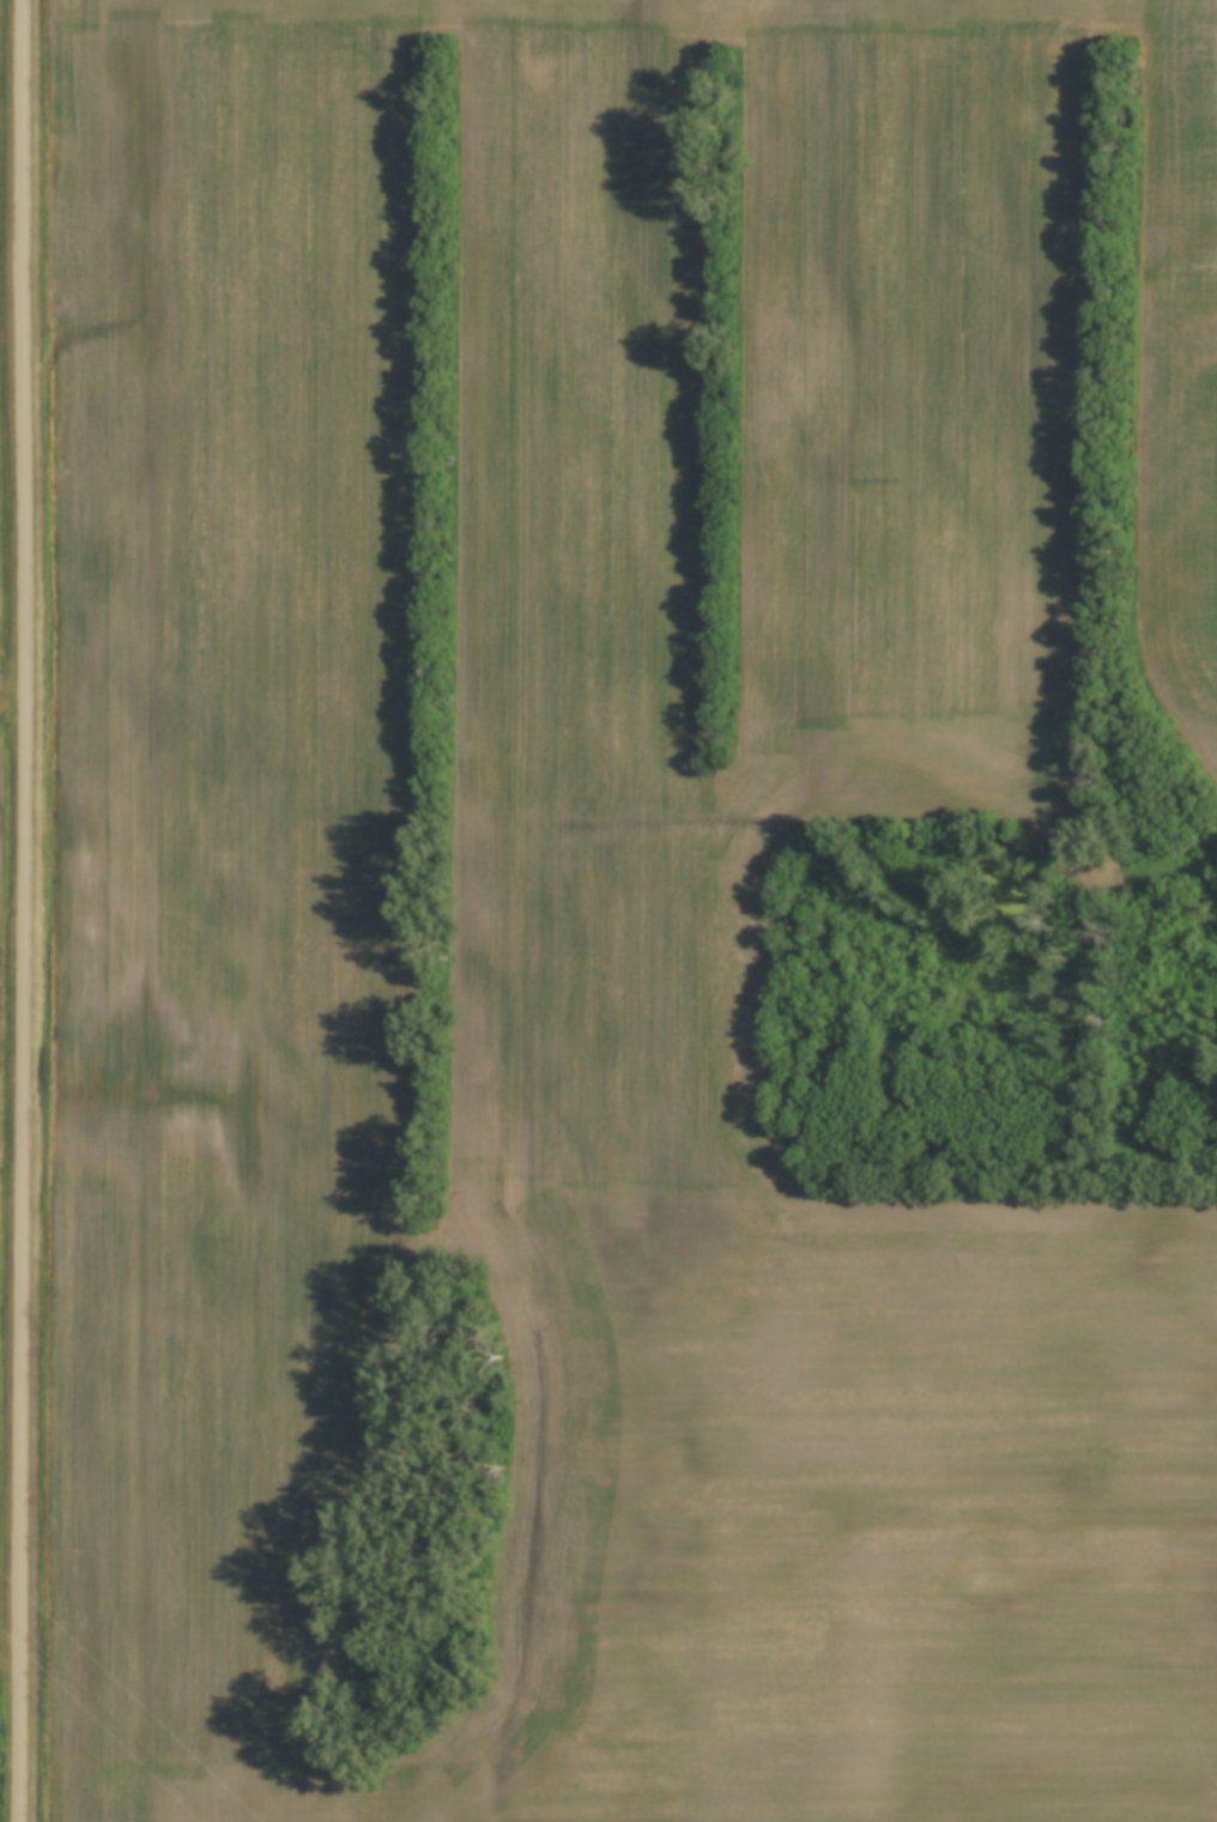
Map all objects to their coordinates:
road: (25, 910)

